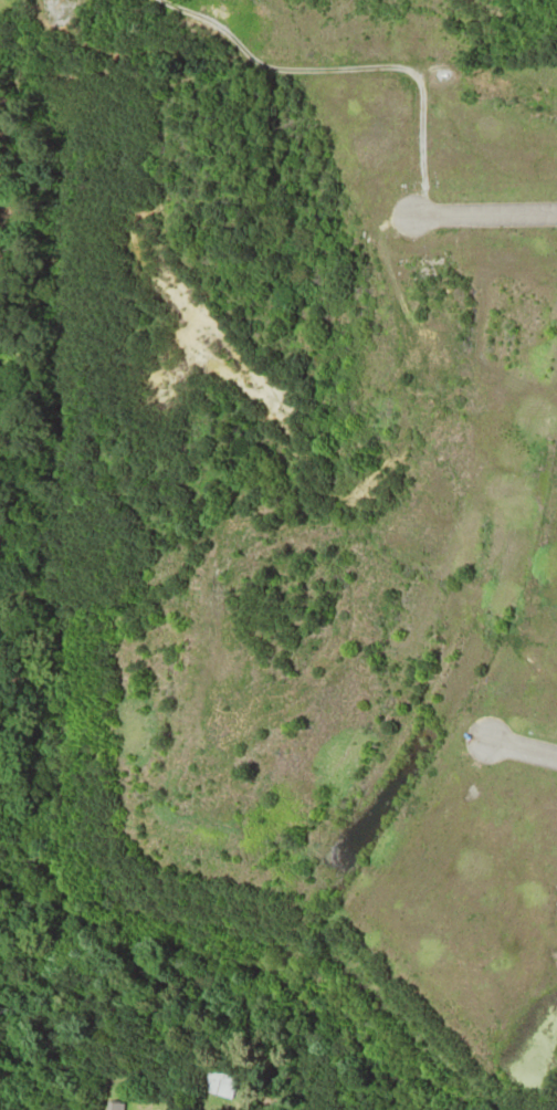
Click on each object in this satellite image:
road: (346, 67)
road: (483, 216)
road: (178, 599)
road: (517, 751)
building: (216, 1083)
building: (112, 1106)

